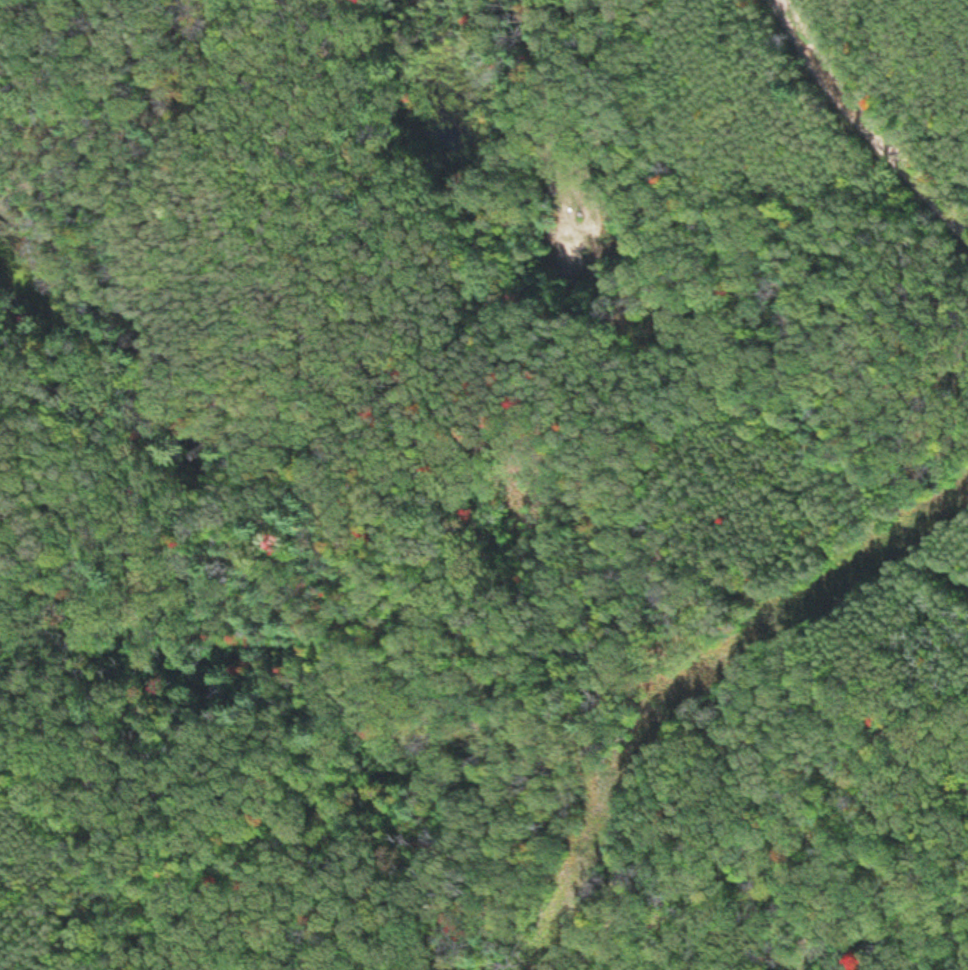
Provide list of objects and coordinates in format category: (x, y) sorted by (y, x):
road: (872, 114)

